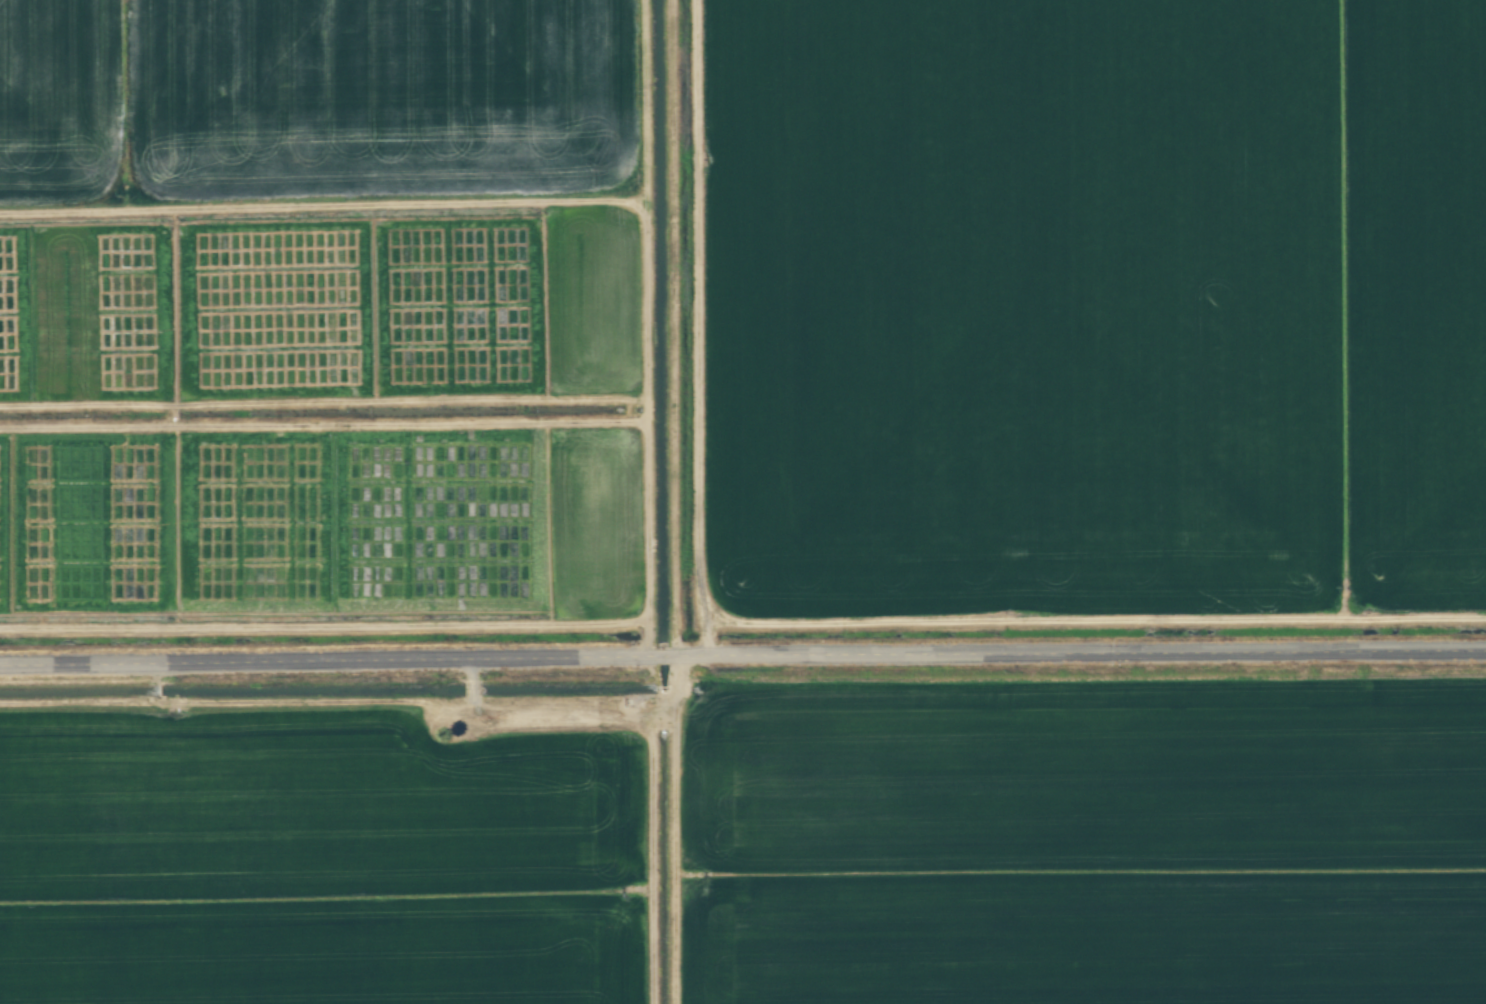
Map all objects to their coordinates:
road: (742, 662)

